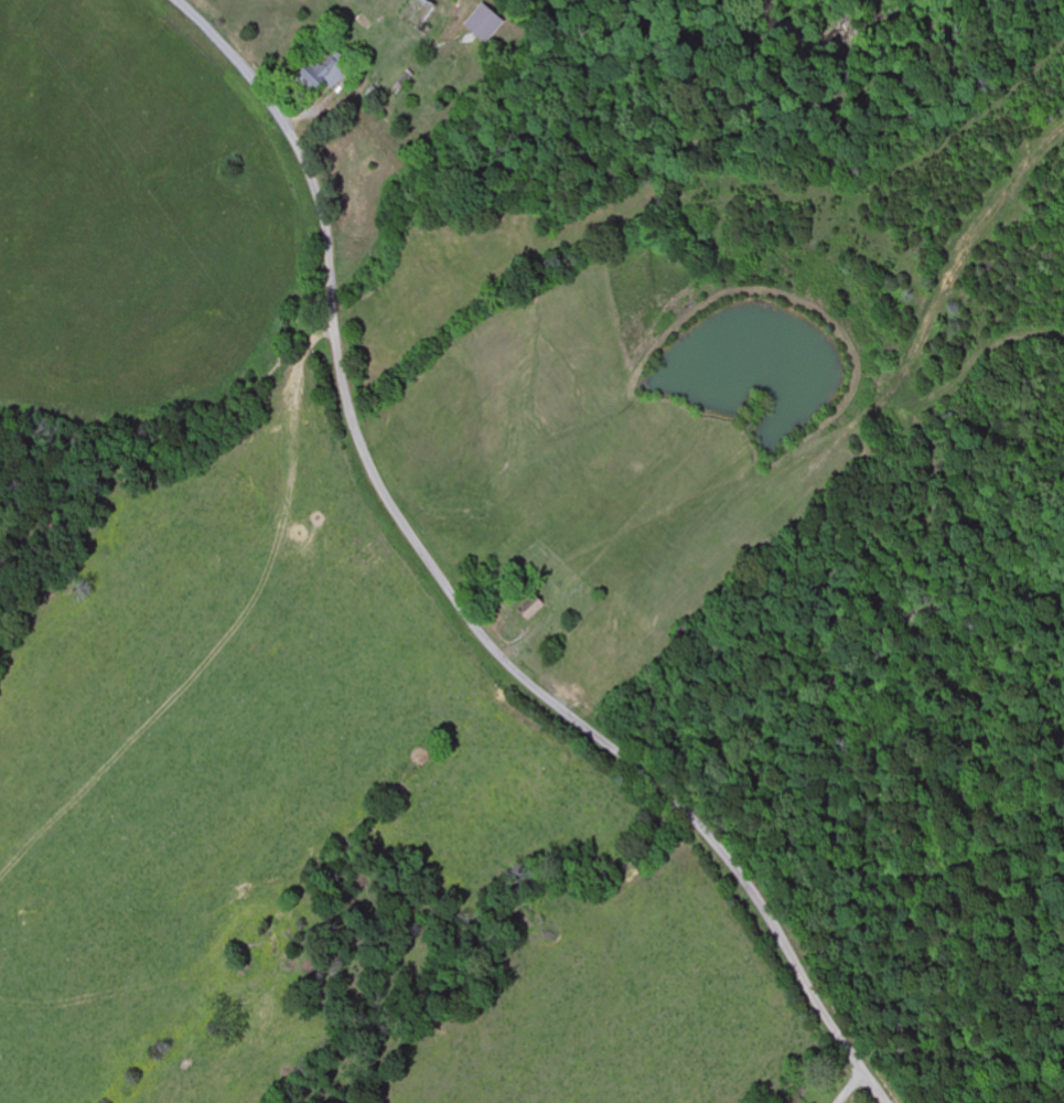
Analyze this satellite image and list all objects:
building: (482, 26)
road: (455, 595)
building: (530, 612)

